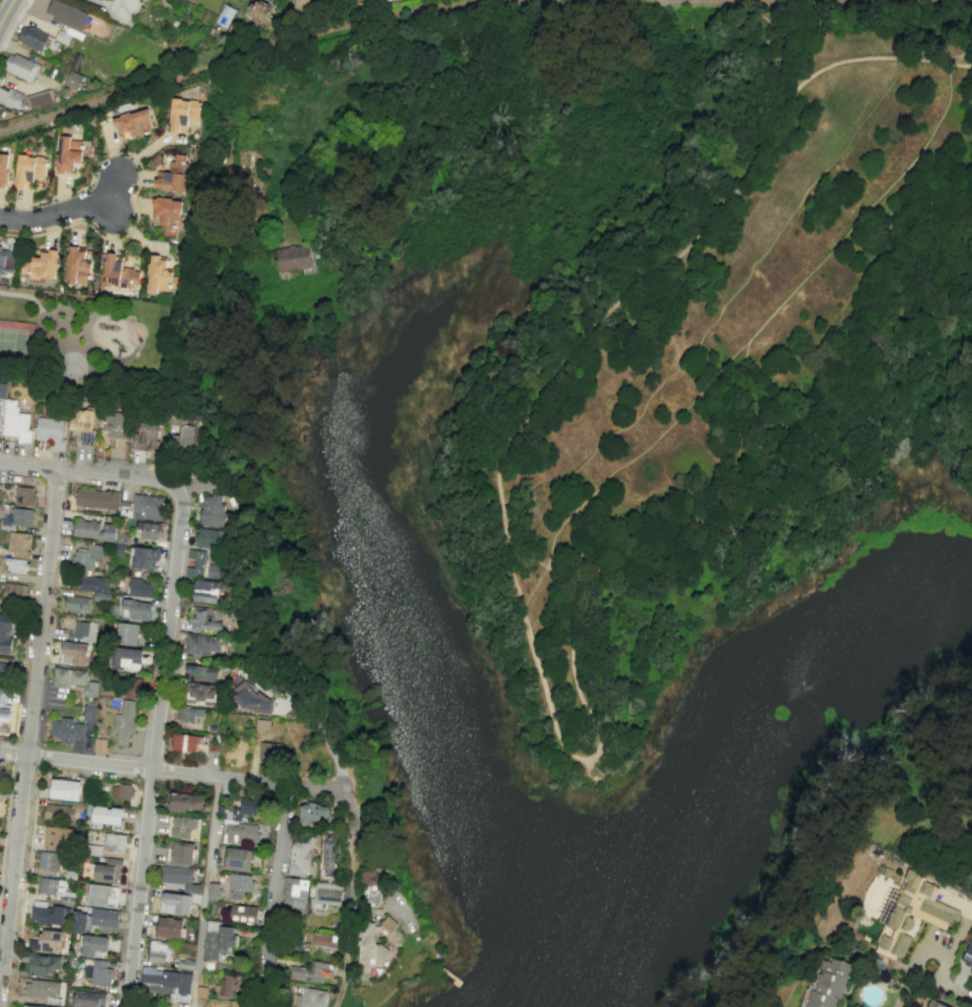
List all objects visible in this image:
building: (388, 0)
railway: (945, 0)
building: (300, 4)
road: (110, 8)
road: (4, 9)
building: (259, 11)
building: (66, 14)
building: (224, 16)
road: (12, 23)
building: (31, 38)
road: (965, 51)
railway: (242, 55)
building: (20, 66)
building: (72, 80)
building: (10, 98)
building: (39, 99)
building: (182, 114)
building: (132, 124)
building: (67, 154)
building: (3, 169)
building: (29, 169)
building: (173, 175)
road: (138, 184)
building: (167, 214)
road: (68, 215)
building: (290, 258)
building: (6, 261)
building: (40, 265)
building: (77, 265)
building: (118, 273)
building: (161, 276)
park: (19, 341)
road: (750, 341)
road: (62, 343)
park: (105, 346)
road: (82, 352)
road: (109, 360)
park: (70, 366)
building: (101, 377)
road: (222, 382)
building: (2, 389)
building: (16, 420)
building: (83, 424)
building: (116, 425)
building: (185, 430)
building: (50, 431)
building: (147, 436)
road: (92, 472)
building: (1, 496)
building: (24, 496)
building: (97, 499)
park: (646, 504)
building: (146, 507)
building: (212, 510)
building: (21, 517)
building: (93, 530)
building: (147, 530)
building: (206, 538)
building: (18, 544)
building: (86, 556)
building: (144, 558)
building: (195, 563)
building: (15, 565)
building: (215, 571)
building: (95, 587)
building: (139, 588)
building: (13, 591)
building: (205, 591)
building: (77, 603)
building: (134, 610)
building: (205, 619)
building: (83, 630)
building: (5, 632)
building: (126, 634)
building: (200, 644)
building: (74, 653)
building: (126, 659)
road: (537, 665)
building: (4, 672)
building: (200, 672)
building: (74, 680)
building: (132, 688)
building: (199, 694)
building: (4, 707)
building: (188, 713)
building: (88, 714)
building: (124, 722)
building: (262, 725)
road: (29, 729)
building: (66, 730)
building: (187, 742)
building: (98, 745)
road: (155, 748)
building: (269, 751)
road: (171, 774)
building: (1, 778)
building: (63, 789)
building: (120, 791)
building: (185, 802)
building: (244, 808)
building: (58, 812)
building: (311, 812)
building: (104, 814)
road: (6, 818)
building: (181, 826)
building: (240, 833)
building: (57, 838)
building: (114, 843)
road: (349, 849)
building: (179, 853)
building: (329, 854)
building: (300, 857)
building: (235, 858)
building: (48, 861)
building: (107, 871)
building: (368, 877)
building: (180, 878)
building: (240, 885)
building: (50, 886)
building: (293, 893)
road: (207, 894)
building: (327, 894)
building: (101, 895)
road: (270, 898)
building: (174, 903)
building: (47, 914)
building: (243, 914)
building: (912, 915)
building: (104, 917)
building: (79, 922)
building: (387, 925)
building: (169, 927)
road: (959, 937)
building: (217, 939)
building: (323, 940)
building: (46, 941)
building: (93, 945)
building: (158, 951)
building: (369, 953)
building: (968, 954)
building: (43, 965)
building: (98, 972)
building: (310, 972)
building: (168, 980)
building: (227, 985)
building: (826, 985)
road: (935, 985)
building: (306, 997)
building: (88, 999)
building: (934, 1004)
building: (30, 1006)

